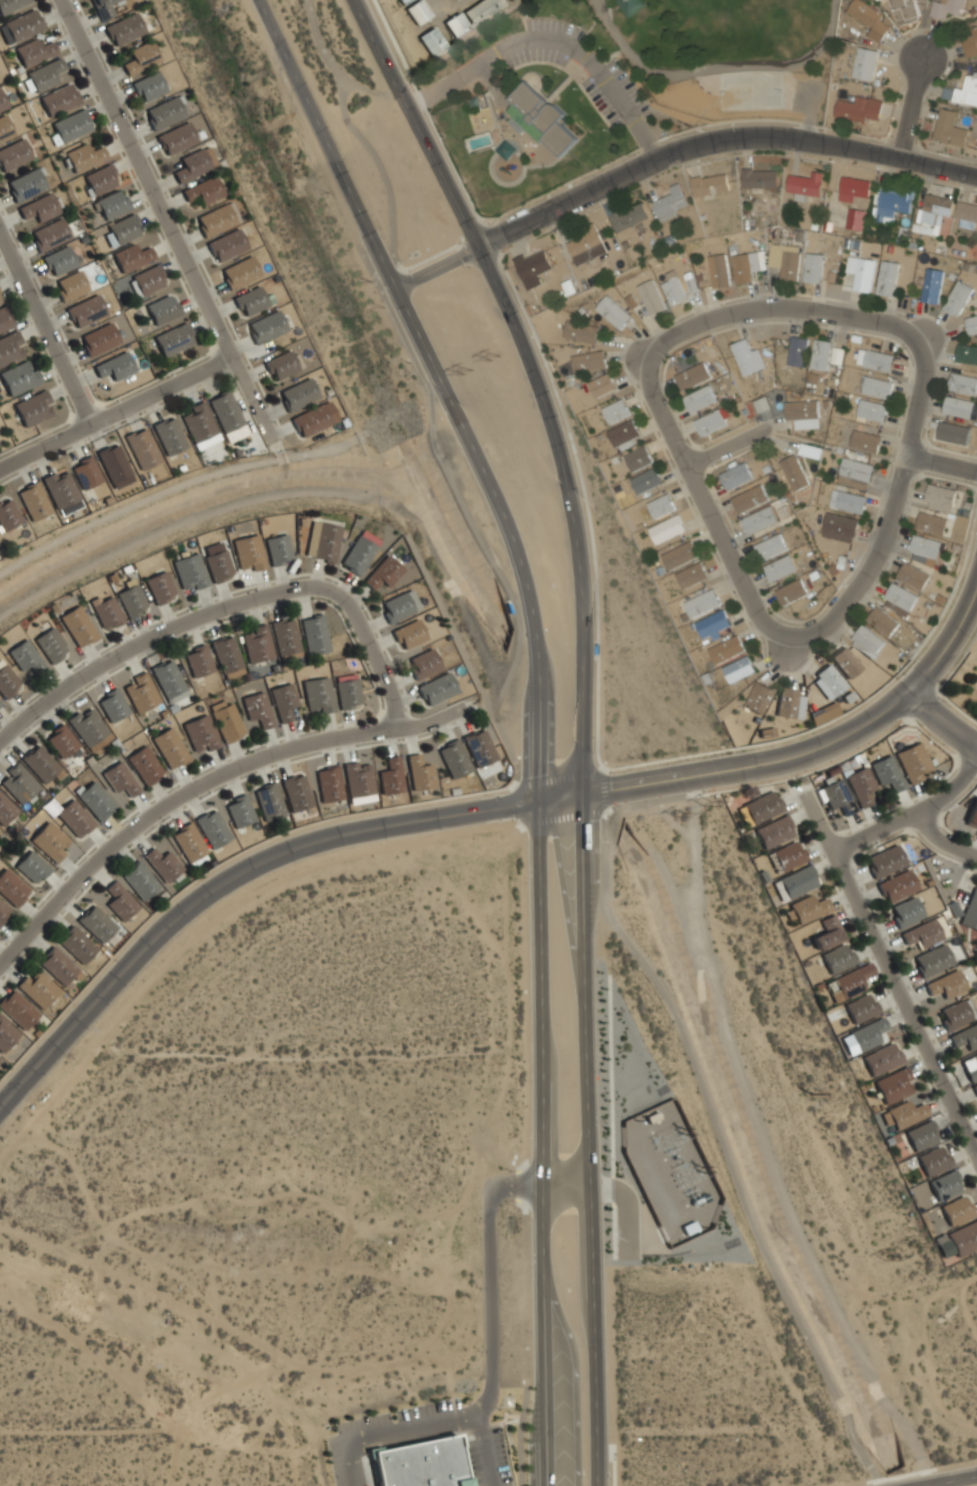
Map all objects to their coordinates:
building: (509, 0)
building: (512, 0)
building: (405, 2)
building: (10, 5)
building: (632, 6)
building: (104, 7)
building: (947, 8)
building: (482, 11)
building: (905, 11)
building: (418, 12)
building: (869, 19)
building: (23, 24)
building: (457, 26)
park: (752, 26)
building: (123, 28)
building: (433, 42)
building: (971, 43)
building: (33, 51)
road: (579, 54)
building: (139, 57)
building: (864, 63)
road: (719, 67)
building: (44, 74)
parking lot: (608, 74)
road: (456, 81)
park: (619, 84)
building: (147, 86)
road: (443, 86)
building: (963, 91)
building: (58, 99)
parking lot: (811, 101)
building: (2, 103)
building: (859, 109)
road: (913, 110)
building: (166, 111)
road: (812, 112)
building: (541, 117)
building: (70, 125)
building: (5, 127)
building: (950, 128)
building: (175, 138)
road: (647, 140)
building: (506, 150)
building: (13, 154)
road: (673, 154)
building: (84, 157)
building: (191, 165)
building: (759, 178)
building: (99, 179)
building: (25, 184)
building: (710, 184)
building: (805, 186)
building: (853, 188)
building: (204, 190)
road: (391, 198)
building: (670, 203)
building: (111, 204)
building: (891, 206)
building: (39, 207)
building: (967, 213)
building: (931, 214)
building: (626, 215)
building: (855, 219)
road: (165, 220)
building: (215, 220)
building: (122, 230)
building: (49, 235)
building: (227, 245)
building: (586, 246)
building: (131, 256)
building: (59, 260)
building: (784, 260)
building: (532, 265)
road: (386, 266)
building: (744, 266)
building: (813, 267)
building: (719, 270)
building: (240, 272)
building: (860, 272)
building: (886, 277)
building: (148, 279)
building: (69, 285)
building: (931, 285)
building: (673, 289)
building: (651, 297)
building: (957, 298)
building: (252, 300)
building: (0, 301)
road: (777, 307)
building: (162, 308)
building: (85, 310)
building: (613, 312)
building: (5, 319)
building: (971, 323)
building: (266, 326)
road: (45, 329)
building: (581, 332)
road: (922, 337)
building: (98, 338)
building: (173, 338)
building: (10, 348)
building: (797, 351)
building: (820, 354)
building: (966, 354)
power tower: (494, 356)
building: (747, 357)
road: (641, 358)
building: (878, 360)
building: (588, 361)
building: (114, 365)
building: (281, 365)
power tower: (468, 373)
building: (693, 376)
building: (19, 378)
road: (536, 379)
building: (963, 383)
building: (602, 385)
building: (876, 387)
road: (444, 388)
building: (297, 394)
building: (700, 399)
building: (761, 404)
building: (958, 407)
building: (33, 408)
building: (871, 410)
road: (114, 411)
building: (616, 411)
building: (803, 414)
building: (227, 416)
building: (310, 420)
building: (711, 422)
building: (200, 426)
building: (954, 433)
building: (624, 435)
building: (169, 436)
building: (865, 441)
building: (142, 448)
road: (723, 448)
building: (638, 459)
building: (113, 463)
road: (940, 463)
building: (86, 473)
building: (794, 473)
building: (855, 473)
building: (736, 476)
building: (646, 480)
road: (183, 486)
building: (60, 489)
building: (941, 495)
building: (750, 498)
building: (34, 501)
building: (850, 502)
building: (661, 506)
road: (704, 506)
road: (890, 510)
building: (8, 514)
road: (464, 517)
building: (759, 520)
building: (932, 523)
building: (839, 527)
building: (666, 529)
building: (322, 541)
building: (770, 547)
building: (925, 548)
building: (278, 550)
building: (249, 552)
building: (359, 552)
building: (679, 555)
building: (218, 565)
building: (780, 567)
building: (190, 572)
building: (383, 573)
building: (690, 575)
building: (912, 576)
building: (160, 588)
building: (790, 592)
building: (900, 596)
building: (131, 600)
building: (701, 602)
building: (400, 606)
building: (507, 606)
building: (106, 612)
building: (882, 621)
building: (711, 622)
building: (78, 626)
building: (314, 634)
building: (409, 634)
building: (285, 636)
road: (147, 637)
building: (867, 640)
building: (257, 643)
building: (51, 645)
road: (785, 647)
building: (597, 648)
building: (724, 649)
road: (372, 650)
building: (226, 653)
building: (25, 656)
building: (198, 660)
building: (423, 663)
building: (845, 663)
building: (738, 669)
building: (168, 680)
building: (829, 681)
building: (8, 682)
building: (436, 688)
building: (140, 691)
building: (347, 691)
building: (318, 694)
building: (757, 697)
building: (283, 701)
building: (112, 704)
building: (789, 705)
building: (257, 708)
building: (226, 720)
road: (942, 720)
building: (87, 726)
building: (200, 732)
building: (60, 741)
building: (169, 748)
building: (479, 748)
road: (816, 748)
building: (454, 759)
building: (39, 763)
building: (913, 763)
building: (144, 764)
building: (419, 773)
building: (886, 774)
building: (391, 776)
road: (556, 776)
building: (119, 778)
building: (358, 779)
building: (18, 783)
building: (329, 784)
building: (859, 786)
road: (193, 788)
road: (602, 791)
building: (296, 792)
building: (836, 796)
road: (561, 797)
building: (95, 800)
building: (269, 802)
road: (516, 804)
power tower: (708, 805)
building: (762, 807)
building: (5, 809)
building: (240, 811)
road: (605, 813)
building: (972, 816)
building: (74, 818)
road: (562, 818)
power tower: (681, 818)
road: (909, 819)
road: (522, 823)
building: (212, 828)
building: (774, 832)
road: (943, 840)
building: (50, 841)
building: (189, 842)
building: (786, 856)
building: (884, 861)
road: (218, 863)
building: (163, 864)
building: (31, 867)
road: (228, 880)
building: (140, 881)
building: (797, 881)
building: (896, 886)
building: (11, 888)
building: (120, 901)
building: (808, 908)
building: (970, 911)
building: (3, 912)
building: (905, 912)
building: (97, 923)
building: (827, 932)
building: (921, 933)
building: (77, 944)
building: (837, 958)
building: (931, 960)
building: (59, 966)
road: (891, 982)
building: (848, 983)
building: (945, 984)
building: (38, 988)
building: (860, 1007)
building: (18, 1009)
building: (956, 1013)
building: (6, 1034)
building: (867, 1034)
building: (965, 1036)
building: (882, 1058)
building: (972, 1067)
building: (893, 1086)
building: (975, 1088)
building: (902, 1114)
building: (921, 1135)
road: (588, 1140)
road: (541, 1143)
road: (724, 1153)
building: (933, 1160)
power substation: (671, 1173)
building: (944, 1184)
road: (627, 1206)
building: (956, 1210)
building: (959, 1240)
power tower: (918, 1243)
road: (489, 1253)
power tower: (888, 1256)
road: (428, 1425)
road: (522, 1426)
road: (404, 1441)
street lamp: (508, 1447)
building: (373, 1449)
parking lot: (500, 1456)
building: (462, 1462)
building: (418, 1464)
parking lot: (474, 1466)
road: (486, 1474)
road: (476, 1476)
road: (949, 1480)
building: (460, 1482)
road: (488, 1482)
road: (478, 1484)

